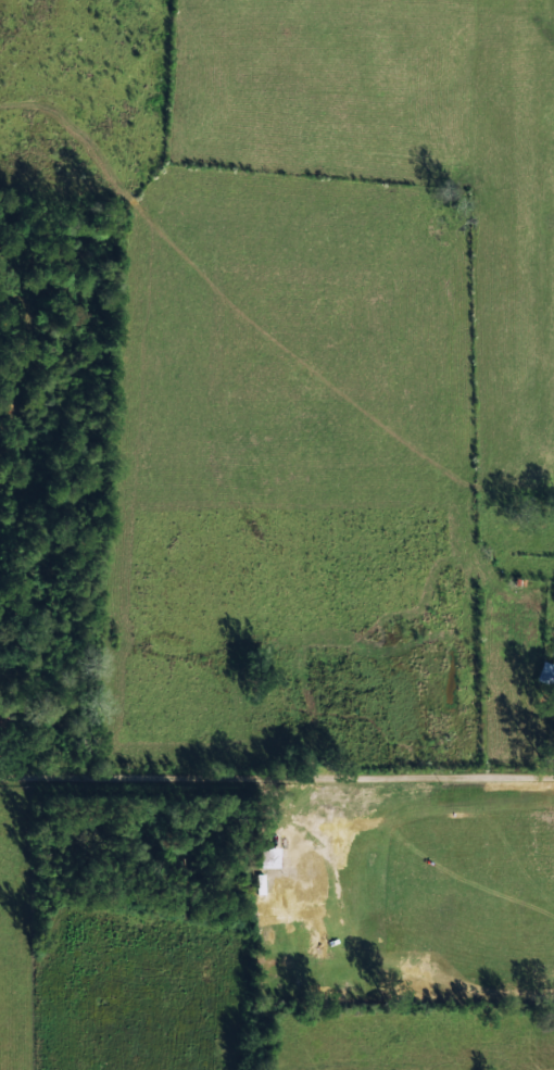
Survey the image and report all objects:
building: (542, 671)
road: (276, 791)
building: (295, 895)

